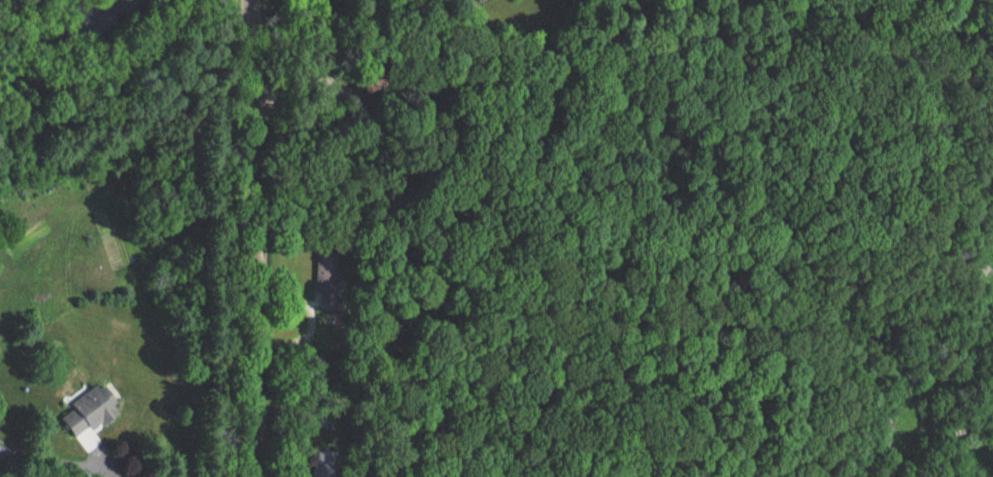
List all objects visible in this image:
road: (251, 238)
building: (93, 412)
road: (50, 463)

